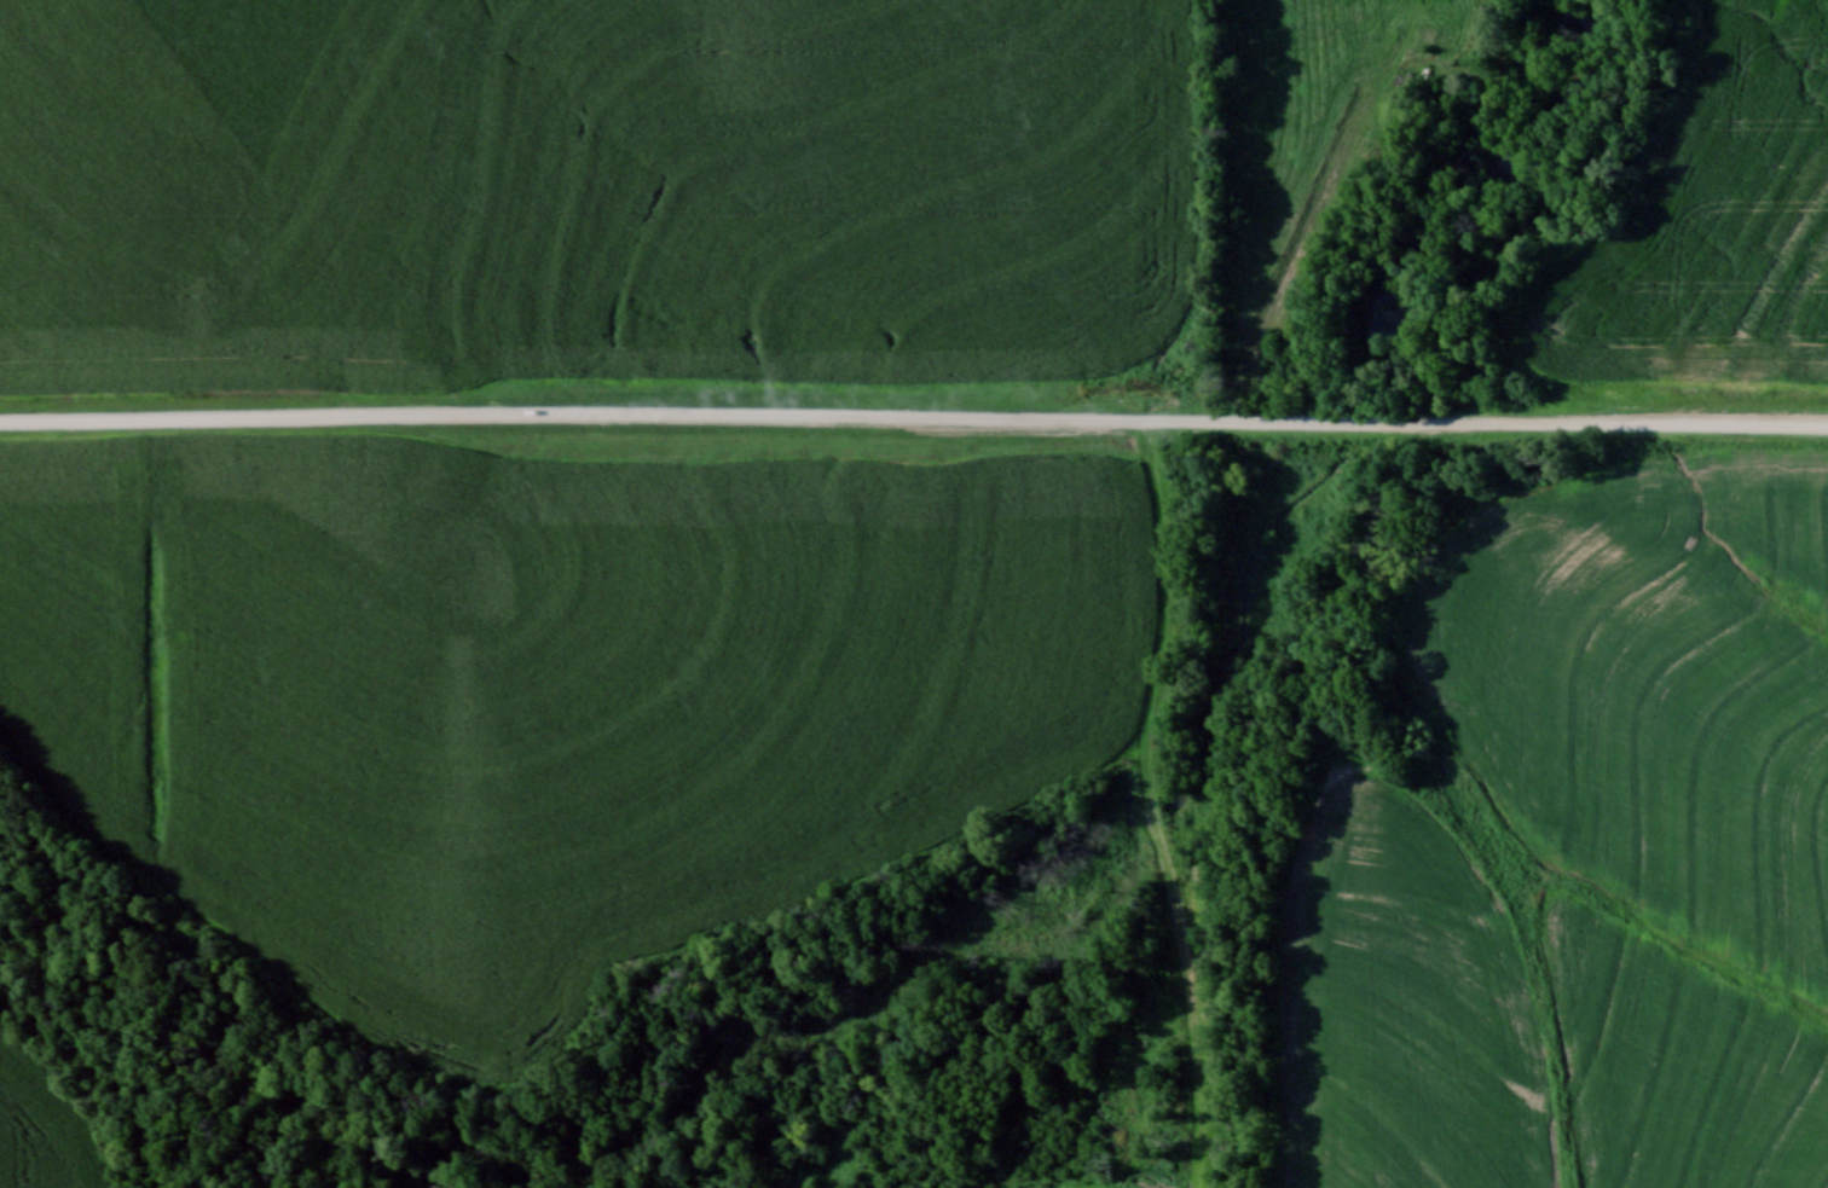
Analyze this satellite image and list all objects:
road: (913, 422)

